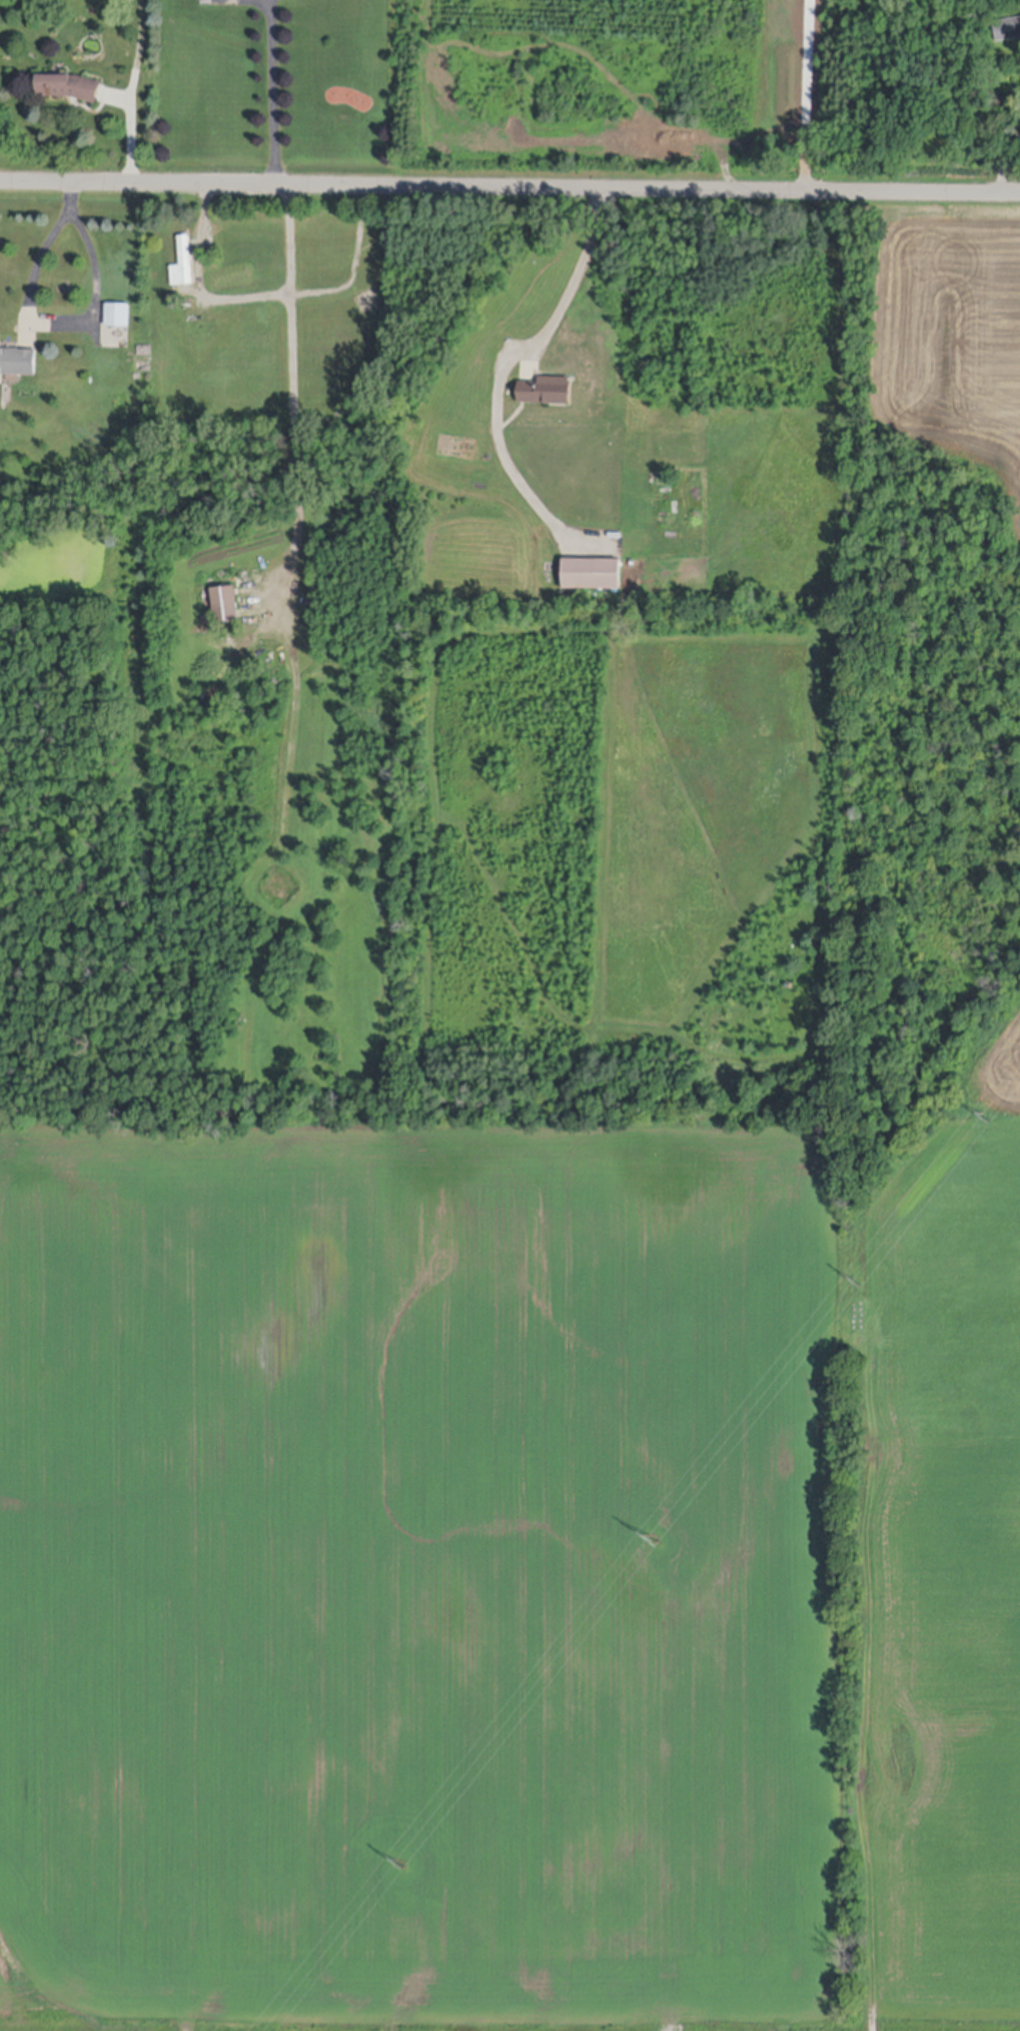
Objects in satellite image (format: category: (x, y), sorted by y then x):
building: (1007, 31)
building: (70, 89)
road: (132, 90)
road: (273, 95)
road: (806, 95)
road: (1005, 160)
road: (510, 186)
building: (183, 266)
road: (574, 277)
road: (199, 282)
building: (117, 317)
road: (45, 319)
building: (18, 364)
road: (293, 380)
building: (547, 395)
building: (592, 578)
building: (221, 608)
quarry: (937, 655)
building: (231, 958)
power tower: (985, 1117)
power tower: (855, 1284)
power tower: (653, 1538)
power tower: (400, 1862)

